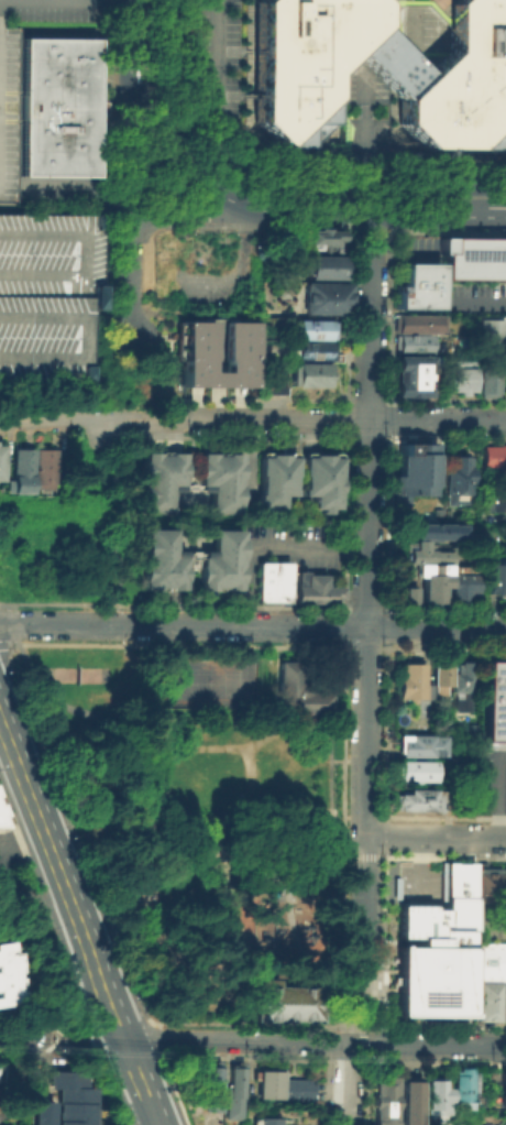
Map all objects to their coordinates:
building: (415, 28)
parking lot: (415, 28)
parking lot: (215, 48)
road: (211, 61)
building: (380, 70)
road: (164, 77)
road: (136, 92)
building: (9, 105)
parking lot: (9, 105)
building: (55, 105)
road: (361, 129)
road: (124, 155)
road: (425, 155)
road: (280, 165)
road: (76, 183)
road: (350, 185)
traffic signals: (356, 186)
road: (238, 203)
road: (177, 214)
road: (333, 215)
traffic signals: (345, 216)
road: (429, 216)
road: (496, 217)
road: (350, 228)
road: (375, 234)
building: (320, 238)
road: (402, 252)
building: (182, 254)
building: (473, 258)
building: (320, 265)
road: (369, 281)
road: (127, 283)
building: (416, 285)
building: (50, 296)
parking lot: (50, 296)
building: (322, 296)
building: (418, 321)
building: (310, 327)
building: (491, 334)
building: (413, 341)
building: (235, 343)
road: (215, 346)
building: (308, 350)
road: (120, 351)
building: (307, 372)
building: (410, 374)
road: (215, 376)
building: (462, 379)
building: (487, 380)
building: (271, 383)
road: (215, 403)
road: (68, 419)
road: (195, 419)
road: (380, 420)
road: (108, 422)
building: (493, 455)
building: (2, 460)
road: (245, 461)
building: (45, 467)
building: (22, 469)
building: (411, 471)
building: (274, 478)
building: (454, 478)
building: (159, 479)
building: (219, 479)
building: (319, 479)
building: (492, 501)
road: (124, 528)
building: (438, 529)
parking lot: (299, 540)
road: (267, 546)
building: (424, 551)
building: (158, 558)
building: (218, 559)
building: (494, 576)
building: (271, 580)
building: (429, 580)
building: (460, 586)
building: (312, 587)
building: (407, 594)
road: (252, 627)
road: (366, 627)
road: (9, 644)
building: (58, 673)
park: (76, 673)
building: (437, 675)
road: (16, 680)
park: (195, 680)
building: (410, 682)
building: (462, 682)
building: (294, 688)
building: (493, 699)
road: (3, 723)
building: (419, 743)
road: (328, 746)
road: (145, 765)
building: (414, 769)
parking lot: (487, 780)
road: (492, 796)
building: (418, 799)
building: (0, 811)
park: (210, 816)
building: (1, 822)
road: (295, 831)
road: (436, 837)
road: (419, 864)
building: (487, 875)
parking lot: (417, 882)
building: (2, 895)
road: (286, 920)
road: (492, 920)
parking lot: (488, 924)
road: (82, 929)
building: (433, 950)
building: (488, 961)
building: (9, 974)
building: (2, 994)
road: (364, 994)
building: (282, 1000)
building: (486, 1002)
road: (24, 1037)
road: (315, 1041)
building: (3, 1073)
road: (346, 1083)
building: (210, 1084)
building: (280, 1085)
building: (461, 1088)
building: (502, 1088)
building: (231, 1093)
building: (433, 1094)
building: (73, 1096)
building: (383, 1100)
building: (408, 1100)
building: (2, 1107)
building: (44, 1111)
building: (266, 1119)
road: (98, 1122)
building: (502, 1122)
building: (484, 1123)
road: (156, 1124)

